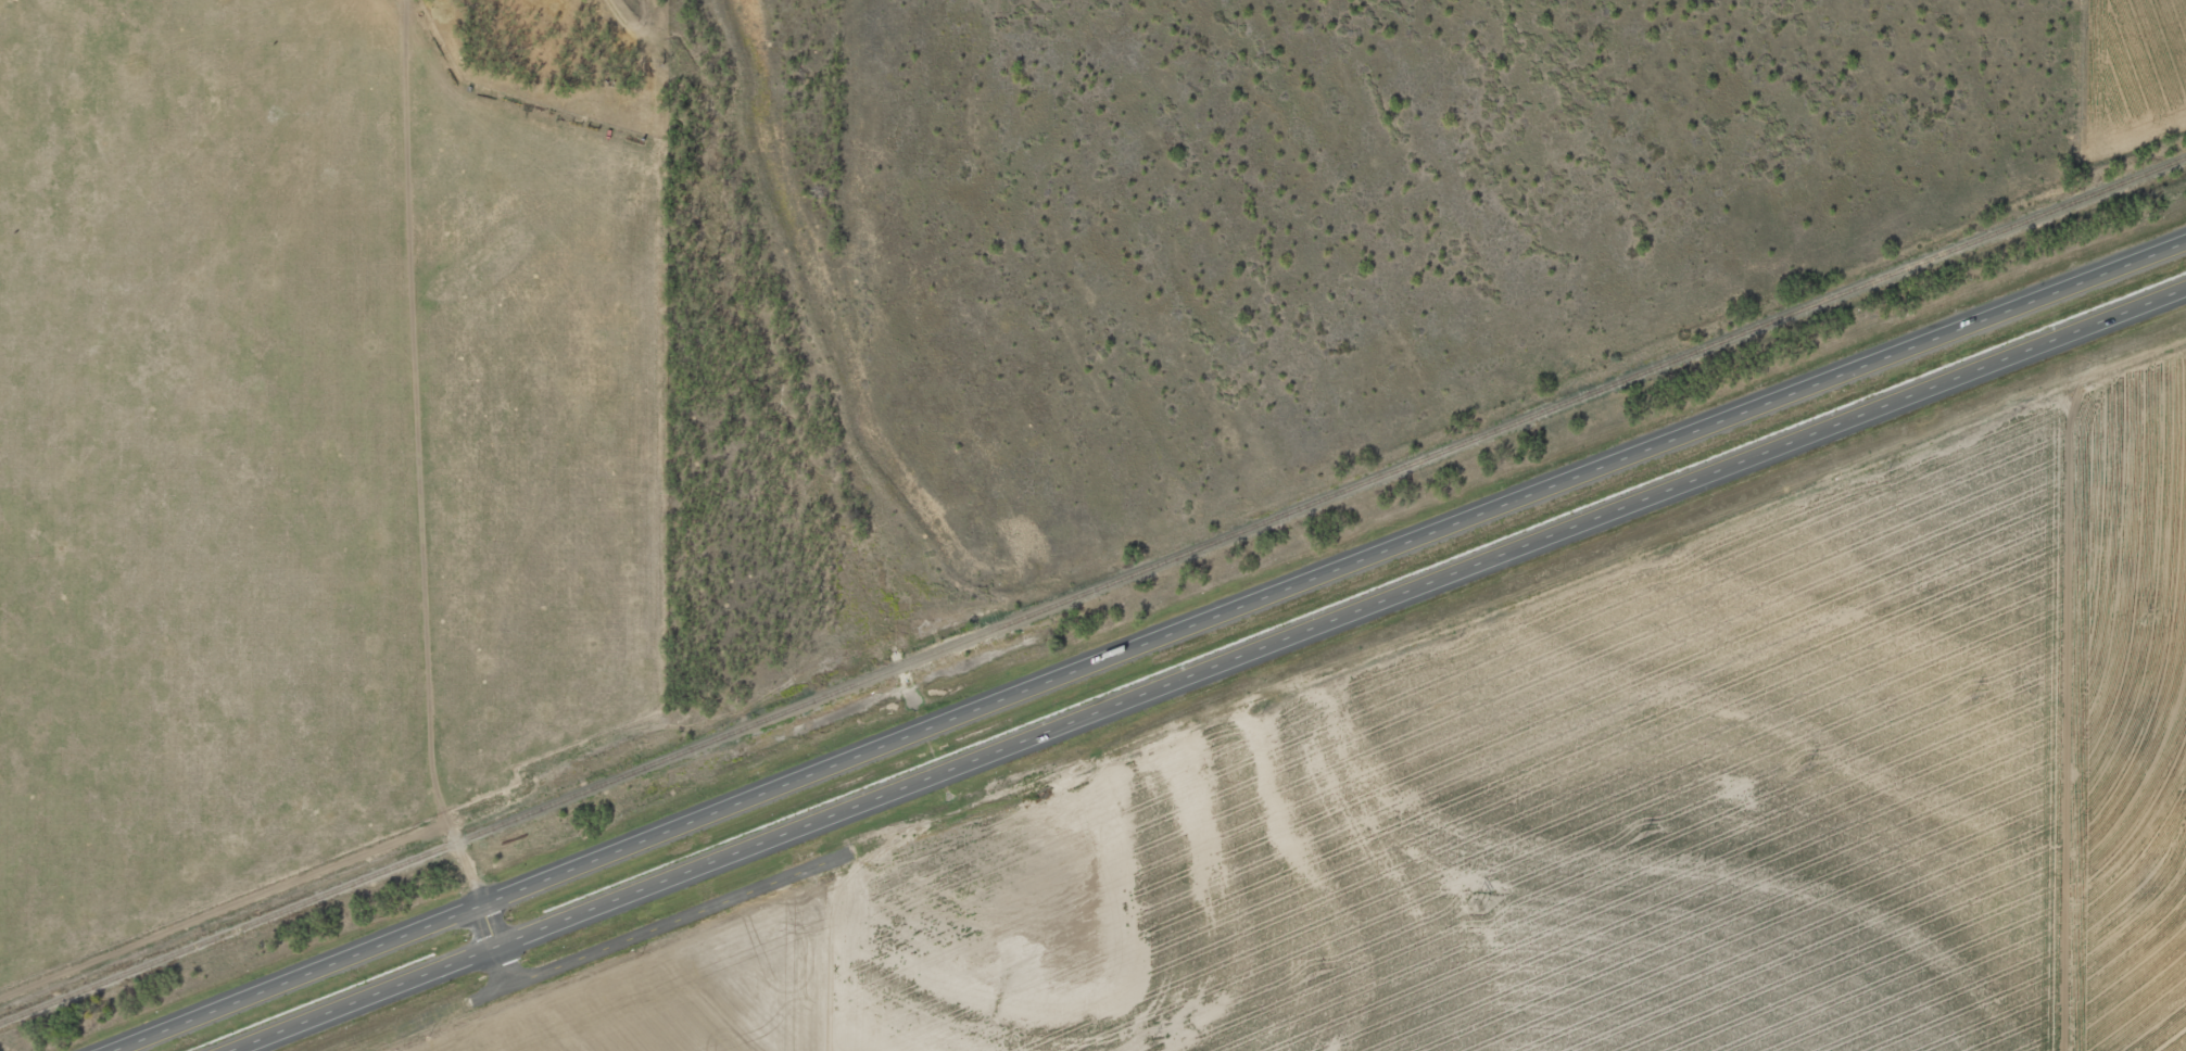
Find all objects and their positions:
railway: (1092, 590)
road: (1150, 646)
road: (1210, 669)
road: (1501, 683)
road: (814, 1033)

